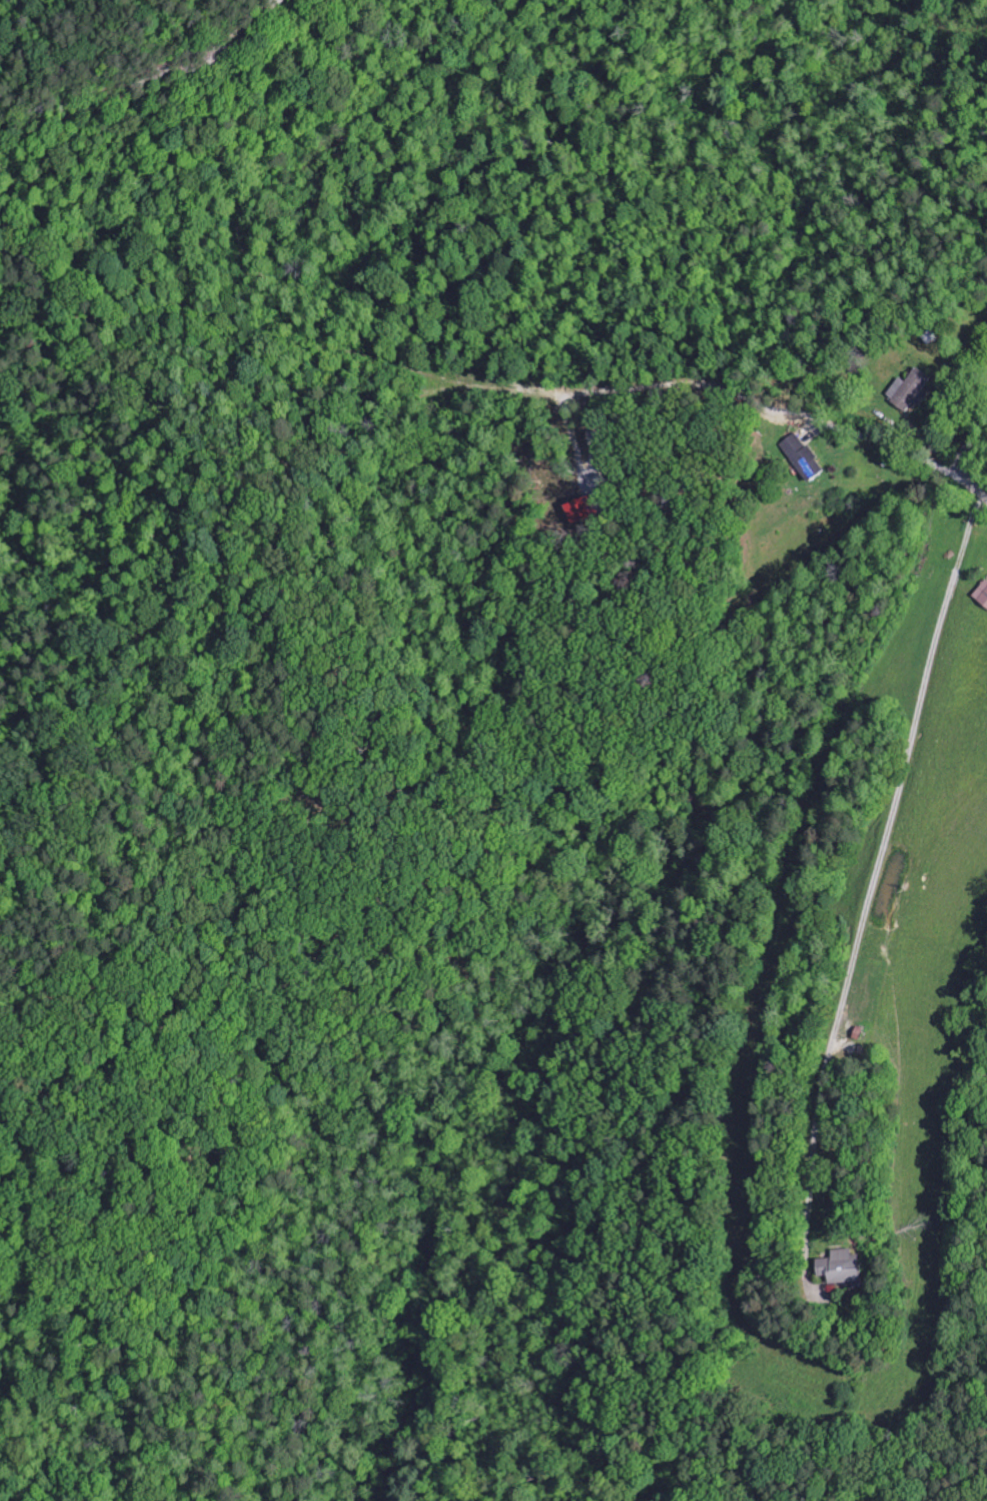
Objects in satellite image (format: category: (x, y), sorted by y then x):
building: (909, 391)
road: (978, 428)
building: (801, 458)
road: (968, 471)
building: (579, 511)
building: (982, 595)
building: (841, 1267)

